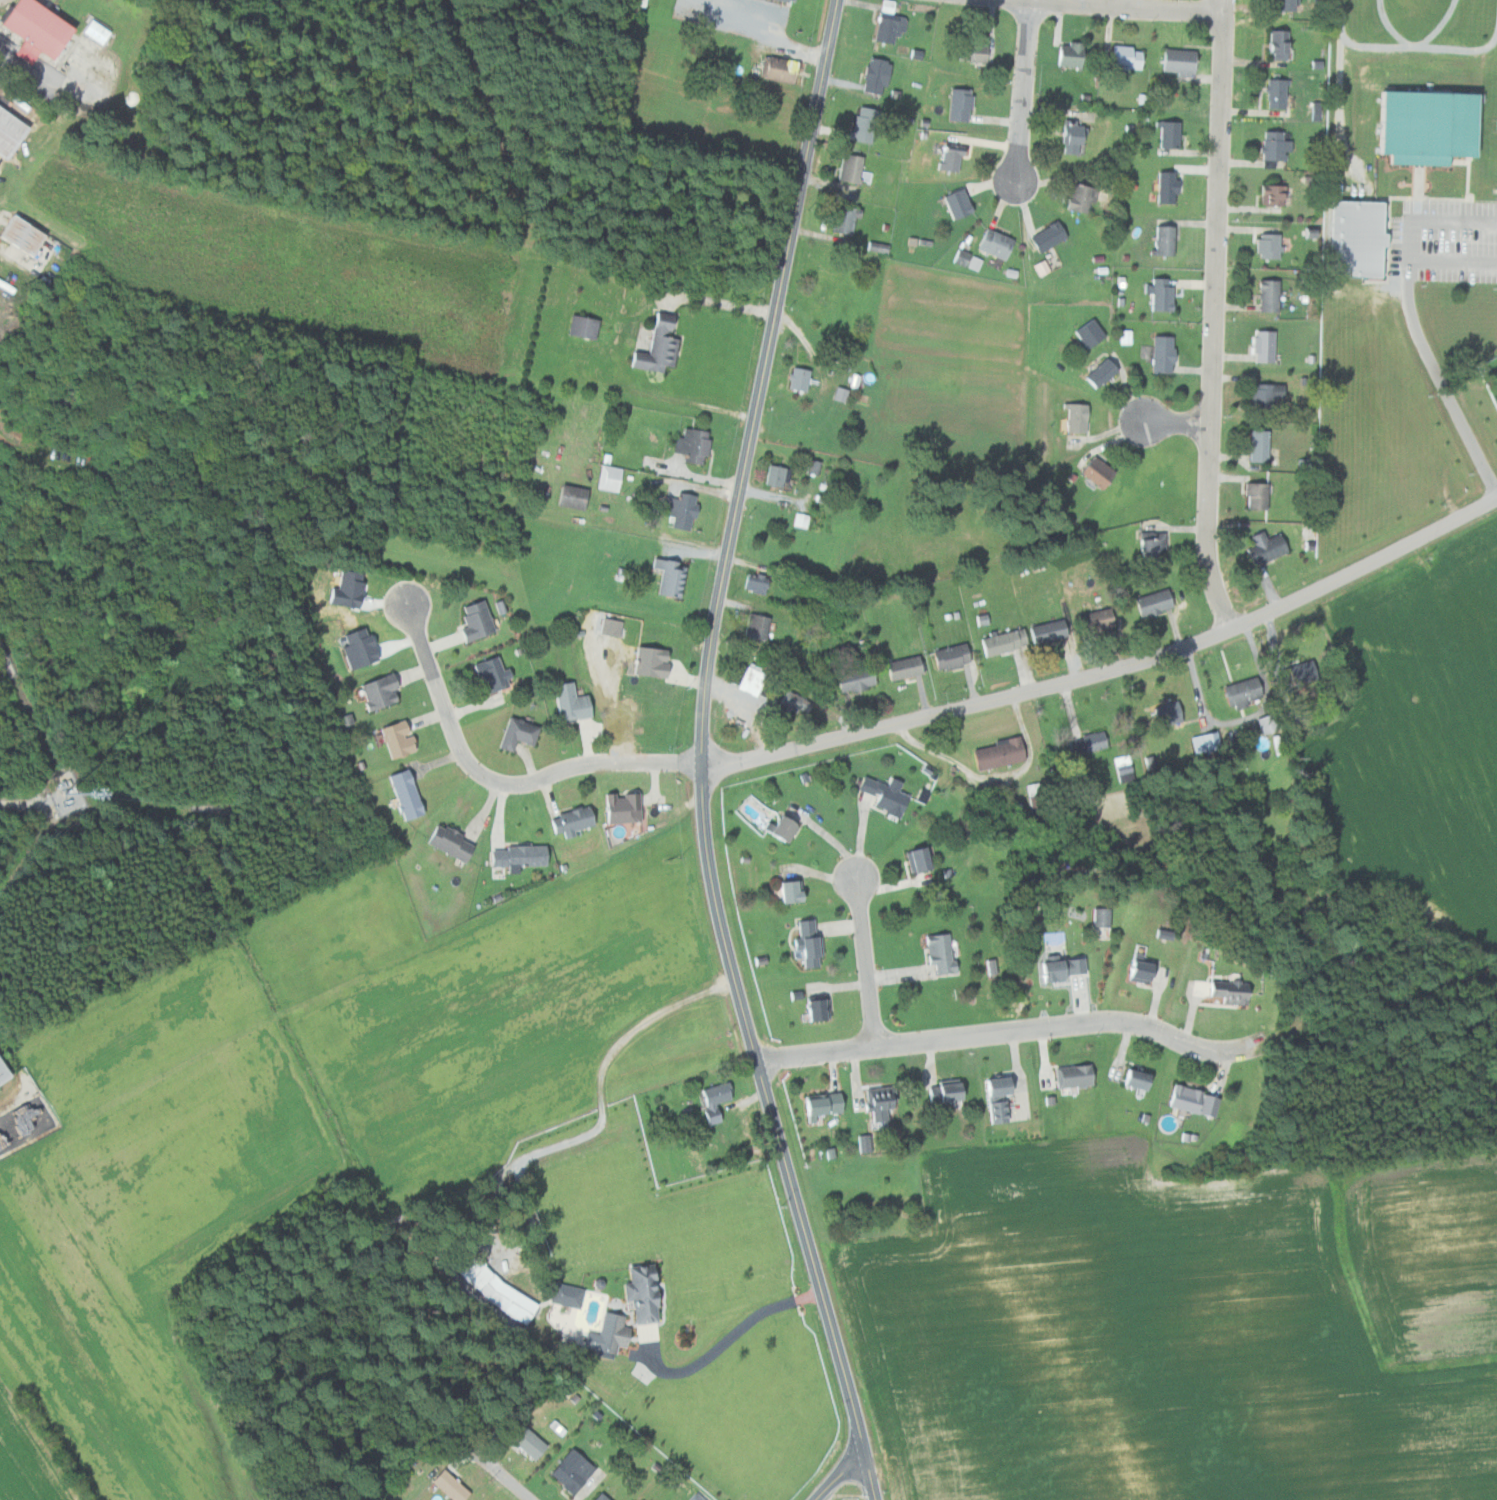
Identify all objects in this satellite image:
building: (789, 0)
building: (1284, 4)
road: (1226, 5)
road: (1129, 7)
building: (890, 24)
building: (43, 28)
building: (101, 30)
road: (1367, 42)
road: (1427, 42)
building: (1277, 44)
road: (1460, 46)
building: (974, 52)
building: (1070, 54)
building: (1127, 57)
building: (1180, 61)
building: (779, 69)
building: (877, 75)
road: (1024, 89)
building: (1277, 93)
building: (961, 104)
road: (1352, 117)
building: (866, 124)
building: (1434, 124)
building: (13, 130)
building: (1169, 134)
building: (1072, 136)
building: (1274, 145)
building: (952, 155)
building: (851, 167)
building: (1169, 186)
building: (1270, 194)
building: (1083, 198)
building: (959, 203)
building: (846, 218)
building: (27, 233)
building: (1049, 236)
building: (1366, 236)
parking lot: (1447, 238)
building: (1162, 239)
road: (1412, 241)
building: (997, 243)
building: (1269, 245)
building: (967, 259)
park: (1410, 271)
building: (1162, 294)
building: (1270, 295)
road: (1214, 323)
building: (584, 326)
building: (1090, 333)
building: (1265, 346)
building: (659, 347)
building: (1164, 354)
building: (1103, 372)
building: (800, 378)
road: (1442, 380)
building: (844, 393)
building: (1267, 394)
building: (1077, 417)
road: (1176, 421)
building: (857, 430)
building: (693, 443)
building: (1259, 445)
building: (814, 464)
building: (1098, 472)
building: (776, 475)
building: (612, 477)
building: (1258, 495)
building: (573, 496)
building: (683, 509)
building: (799, 519)
building: (1152, 544)
building: (1268, 549)
building: (671, 577)
building: (757, 579)
building: (1155, 602)
building: (1096, 619)
building: (476, 620)
building: (612, 625)
building: (757, 625)
building: (1049, 631)
building: (1004, 641)
building: (953, 656)
building: (652, 661)
building: (905, 667)
road: (1112, 669)
building: (1304, 671)
building: (492, 674)
building: (753, 679)
building: (857, 679)
building: (381, 691)
building: (1244, 691)
building: (572, 701)
building: (795, 703)
building: (1170, 714)
building: (1268, 724)
building: (518, 733)
building: (398, 738)
building: (1091, 742)
building: (1206, 743)
building: (999, 753)
road: (703, 754)
road: (501, 781)
building: (407, 794)
building: (891, 799)
building: (621, 808)
building: (573, 820)
building: (785, 828)
building: (451, 842)
building: (520, 855)
building: (913, 858)
building: (921, 859)
building: (793, 891)
building: (1101, 918)
building: (809, 943)
building: (942, 954)
road: (866, 962)
building: (1063, 969)
building: (1143, 969)
building: (1231, 992)
building: (817, 1009)
road: (1009, 1032)
building: (5, 1074)
building: (1074, 1075)
building: (1138, 1079)
building: (947, 1093)
building: (999, 1098)
building: (1192, 1100)
building: (713, 1101)
building: (880, 1103)
building: (818, 1104)
building: (493, 1290)
building: (638, 1294)
building: (564, 1295)
building: (606, 1334)
road: (724, 1341)
building: (523, 1439)
building: (568, 1471)
road: (839, 1474)
road: (509, 1478)
building: (447, 1485)
building: (598, 1497)
building: (693, 1497)

